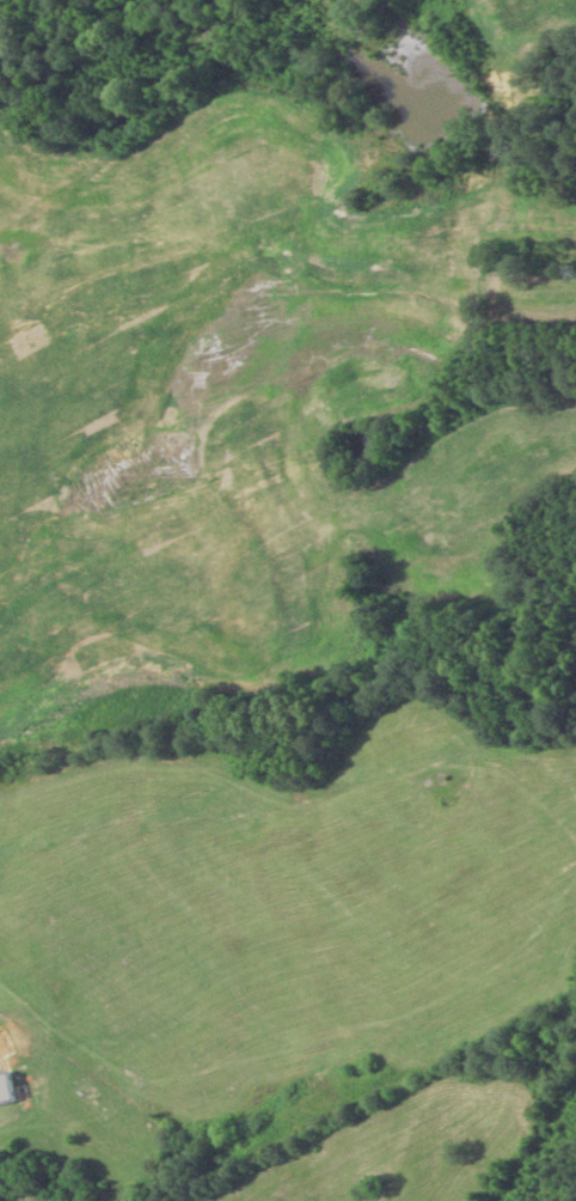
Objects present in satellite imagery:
building: (12, 1086)

